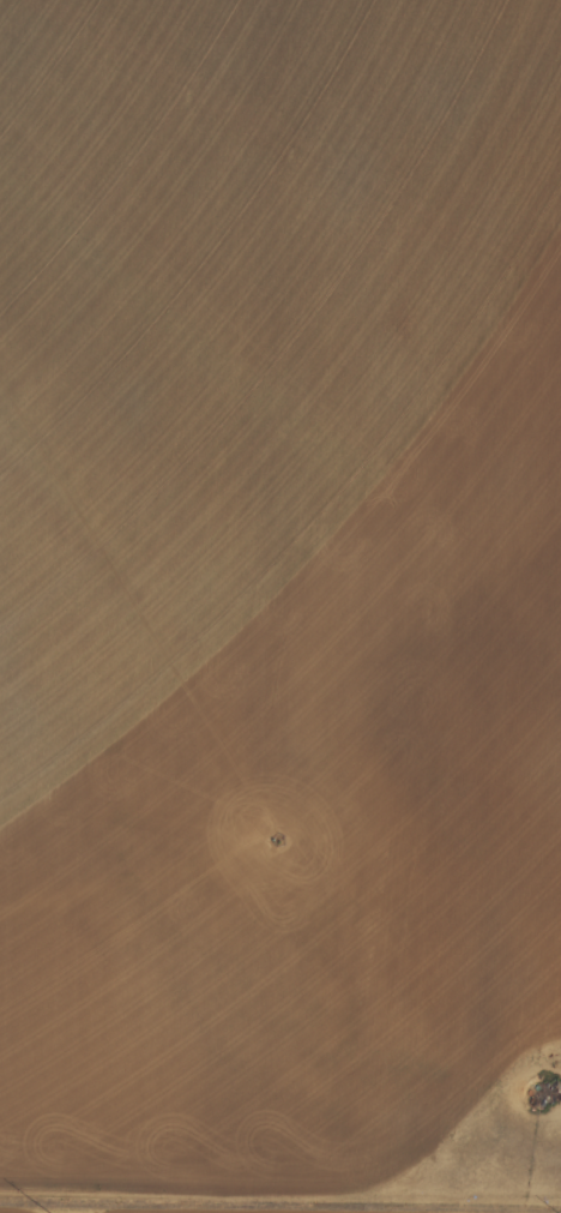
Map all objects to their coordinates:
road: (173, 1207)

